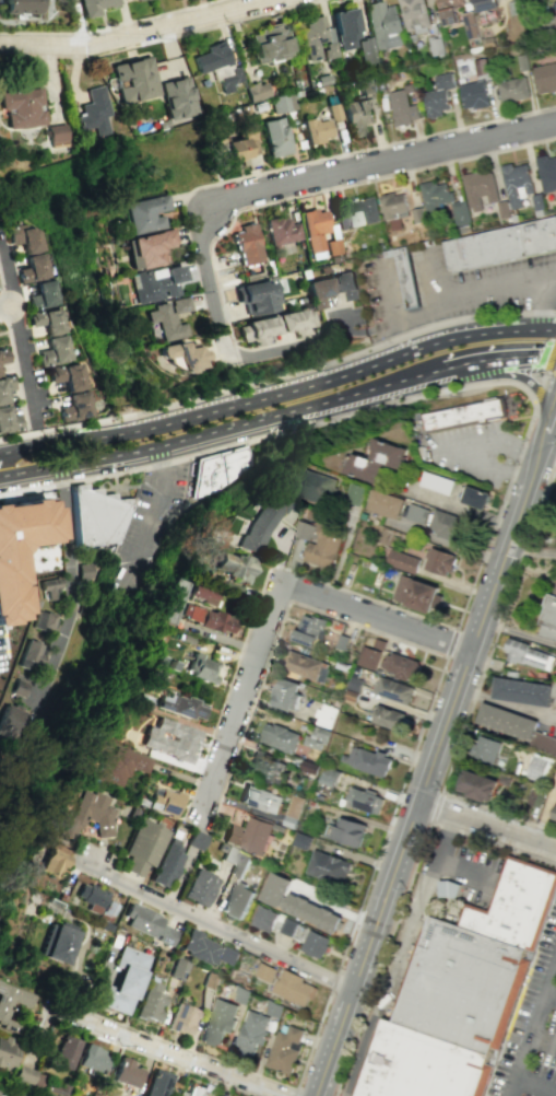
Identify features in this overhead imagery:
building: (125, 0)
building: (483, 4)
building: (94, 5)
building: (17, 7)
building: (448, 11)
building: (414, 15)
building: (382, 24)
building: (470, 24)
building: (555, 24)
road: (109, 26)
building: (344, 28)
road: (139, 32)
road: (159, 38)
building: (317, 38)
building: (269, 44)
building: (367, 50)
building: (211, 57)
building: (480, 67)
building: (544, 78)
building: (133, 79)
building: (227, 79)
building: (511, 89)
building: (257, 91)
building: (438, 95)
building: (473, 95)
building: (177, 97)
building: (283, 102)
building: (402, 106)
building: (22, 107)
building: (93, 112)
building: (333, 112)
building: (357, 115)
building: (316, 130)
building: (56, 135)
building: (274, 137)
building: (240, 144)
road: (365, 148)
road: (319, 177)
building: (516, 184)
building: (478, 188)
building: (434, 195)
road: (193, 206)
road: (252, 206)
building: (145, 212)
building: (358, 212)
building: (458, 212)
building: (281, 230)
building: (314, 231)
building: (26, 237)
building: (246, 244)
building: (499, 244)
building: (149, 248)
building: (34, 268)
building: (406, 277)
building: (156, 283)
parking lot: (502, 284)
building: (344, 285)
road: (474, 290)
building: (317, 291)
road: (386, 291)
building: (44, 294)
building: (255, 296)
road: (7, 306)
road: (541, 306)
road: (422, 315)
building: (167, 318)
building: (47, 320)
building: (293, 320)
road: (364, 329)
road: (21, 348)
road: (273, 350)
building: (55, 351)
building: (2, 355)
building: (181, 355)
road: (549, 357)
road: (464, 361)
road: (549, 373)
road: (15, 374)
road: (279, 374)
building: (67, 375)
road: (521, 378)
building: (4, 386)
road: (298, 387)
road: (537, 388)
building: (74, 406)
building: (464, 415)
building: (8, 420)
road: (551, 427)
road: (189, 438)
road: (28, 450)
road: (543, 451)
road: (457, 452)
road: (9, 453)
parking lot: (471, 454)
road: (162, 456)
building: (377, 460)
building: (218, 469)
road: (536, 469)
road: (510, 471)
building: (436, 482)
building: (315, 486)
building: (356, 493)
building: (474, 497)
building: (386, 503)
building: (415, 513)
building: (96, 515)
building: (448, 526)
parking lot: (151, 528)
road: (149, 530)
building: (318, 541)
road: (532, 555)
building: (402, 561)
building: (438, 561)
building: (234, 566)
building: (87, 570)
building: (9, 583)
building: (51, 586)
building: (415, 593)
building: (204, 594)
building: (174, 601)
road: (272, 605)
building: (549, 616)
building: (206, 618)
building: (45, 619)
road: (69, 626)
building: (309, 629)
road: (519, 632)
road: (451, 642)
road: (411, 643)
building: (32, 654)
building: (527, 654)
parking lot: (2, 655)
building: (368, 657)
building: (401, 665)
building: (307, 666)
building: (200, 667)
road: (477, 681)
building: (20, 687)
building: (393, 689)
building: (522, 691)
building: (286, 693)
building: (179, 706)
building: (326, 715)
building: (389, 718)
building: (13, 721)
building: (506, 721)
building: (279, 737)
building: (317, 737)
building: (168, 738)
building: (543, 743)
building: (485, 748)
building: (367, 760)
building: (119, 766)
building: (267, 767)
building: (540, 767)
building: (330, 777)
building: (476, 785)
road: (422, 788)
building: (535, 796)
building: (260, 798)
building: (364, 800)
building: (165, 801)
building: (295, 806)
building: (554, 813)
building: (88, 815)
road: (487, 824)
building: (346, 831)
building: (248, 835)
building: (194, 839)
building: (143, 847)
parking lot: (476, 854)
building: (51, 859)
building: (235, 861)
building: (167, 863)
building: (329, 866)
road: (460, 868)
building: (199, 887)
building: (448, 888)
building: (91, 896)
road: (403, 896)
building: (236, 900)
building: (298, 902)
building: (150, 925)
road: (223, 931)
building: (292, 931)
building: (57, 942)
building: (201, 947)
road: (398, 954)
building: (228, 955)
building: (476, 963)
building: (264, 971)
building: (125, 981)
road: (332, 981)
building: (294, 989)
road: (548, 1000)
building: (150, 1002)
building: (5, 1004)
building: (181, 1018)
building: (218, 1021)
road: (532, 1025)
parking lot: (532, 1028)
building: (251, 1033)
road: (542, 1042)
building: (284, 1048)
building: (68, 1051)
building: (8, 1052)
road: (168, 1052)
building: (94, 1058)
road: (221, 1060)
road: (167, 1063)
building: (423, 1065)
building: (128, 1072)
building: (28, 1075)
building: (158, 1083)
road: (535, 1086)
building: (193, 1089)
road: (293, 1092)
building: (15, 1094)
building: (48, 1094)

